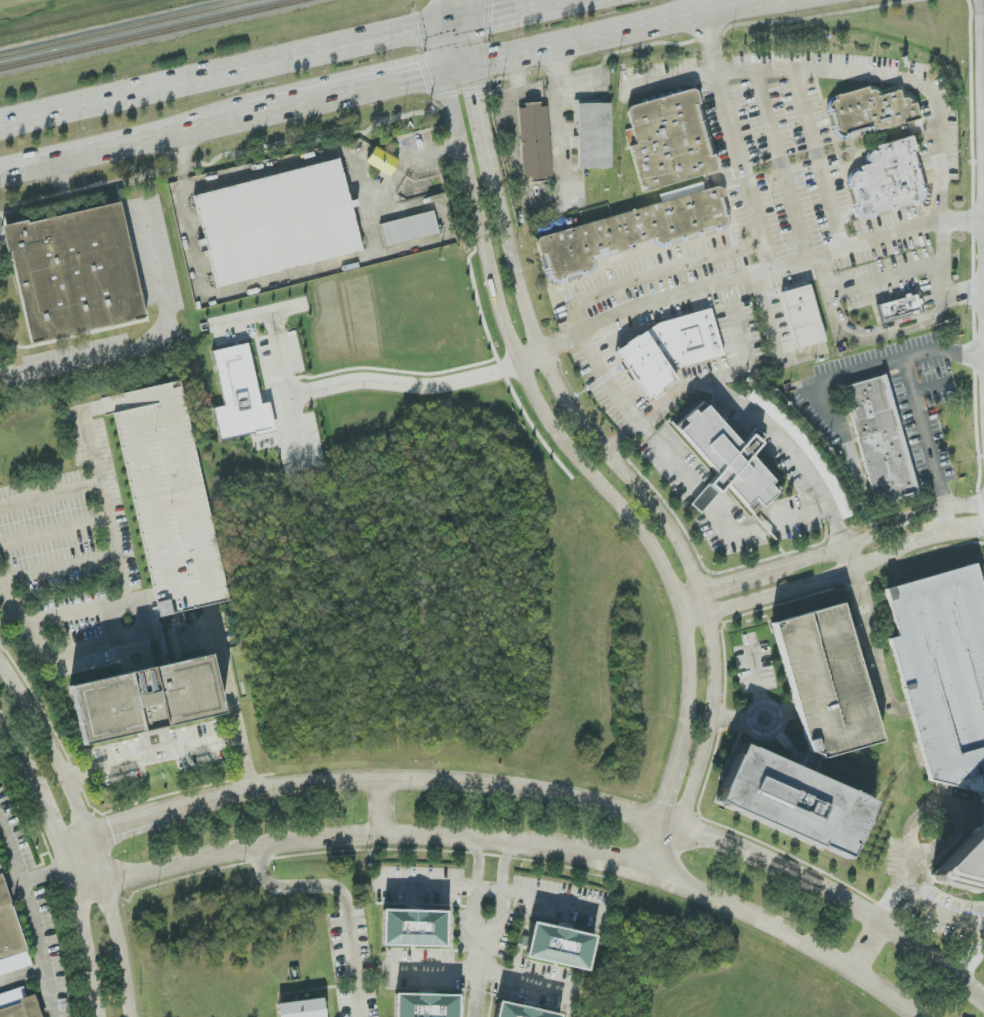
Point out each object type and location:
road: (497, 7)
traffic signals: (466, 14)
traffic signals: (442, 20)
railway: (129, 29)
railway: (154, 35)
road: (468, 36)
road: (603, 36)
road: (444, 38)
road: (233, 67)
traffic signals: (472, 72)
traffic signals: (450, 77)
road: (668, 85)
road: (928, 89)
road: (446, 96)
road: (352, 98)
building: (872, 111)
road: (559, 126)
building: (595, 133)
building: (672, 140)
road: (736, 140)
building: (536, 141)
road: (127, 148)
road: (818, 160)
building: (382, 162)
road: (782, 166)
building: (891, 177)
building: (682, 192)
building: (282, 220)
building: (409, 227)
building: (636, 231)
building: (77, 271)
road: (758, 273)
parking lot: (768, 274)
road: (654, 275)
road: (824, 275)
road: (887, 280)
road: (965, 295)
building: (900, 309)
road: (288, 310)
road: (767, 315)
building: (806, 317)
road: (883, 337)
road: (142, 347)
building: (673, 350)
road: (529, 357)
road: (713, 380)
road: (832, 381)
road: (340, 383)
road: (932, 388)
building: (240, 396)
road: (551, 425)
road: (299, 426)
road: (923, 437)
building: (882, 439)
road: (792, 453)
building: (730, 462)
road: (625, 474)
road: (681, 477)
building: (169, 497)
road: (49, 498)
road: (104, 509)
road: (946, 522)
road: (878, 533)
road: (961, 534)
road: (54, 535)
road: (930, 537)
road: (930, 540)
road: (846, 562)
road: (57, 571)
road: (726, 586)
road: (803, 586)
road: (75, 615)
road: (8, 616)
road: (137, 638)
road: (859, 639)
road: (44, 649)
road: (871, 650)
road: (755, 671)
building: (943, 673)
parking garage: (943, 673)
building: (822, 684)
parking garage: (822, 684)
building: (146, 700)
road: (230, 700)
road: (784, 713)
road: (732, 720)
road: (768, 732)
road: (8, 740)
road: (151, 758)
road: (943, 794)
road: (943, 802)
building: (795, 805)
road: (611, 807)
road: (382, 808)
road: (661, 808)
road: (44, 809)
road: (122, 827)
road: (88, 830)
road: (449, 837)
building: (966, 858)
road: (478, 861)
road: (503, 864)
road: (43, 874)
road: (491, 891)
road: (895, 894)
road: (344, 898)
road: (938, 915)
road: (31, 922)
building: (413, 928)
building: (9, 935)
road: (89, 939)
road: (482, 944)
building: (560, 946)
road: (866, 948)
road: (836, 963)
road: (480, 972)
road: (21, 979)
road: (479, 980)
road: (870, 984)
building: (18, 1004)
building: (426, 1005)
road: (904, 1005)
building: (301, 1009)
building: (521, 1012)

